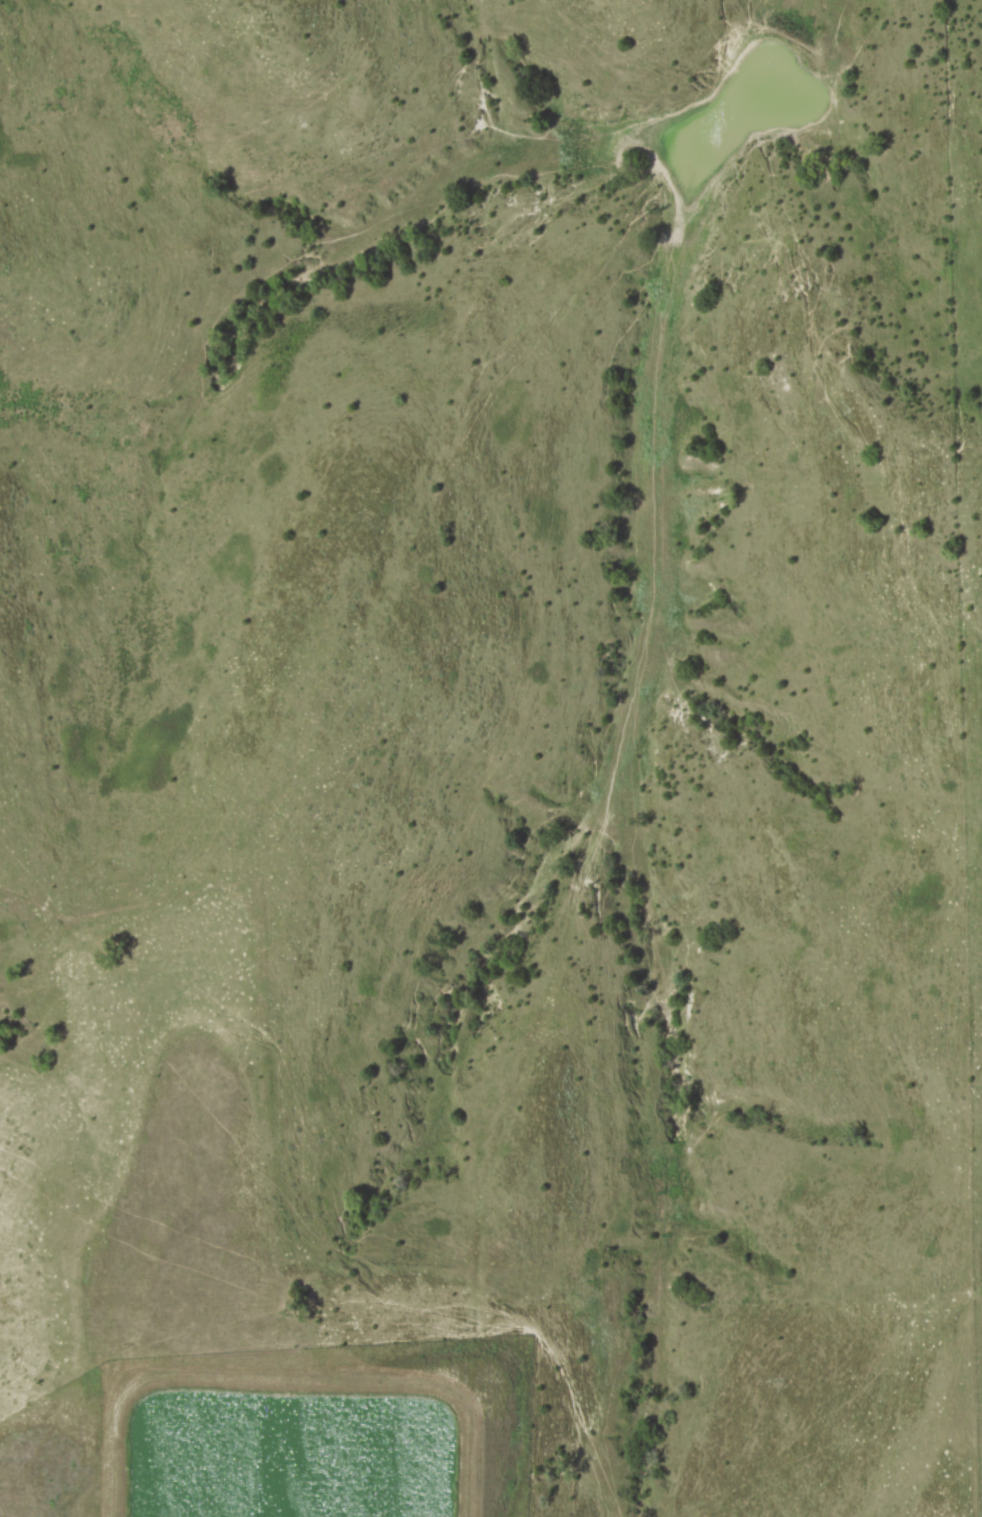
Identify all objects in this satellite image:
wastewater plant: (276, 1433)

